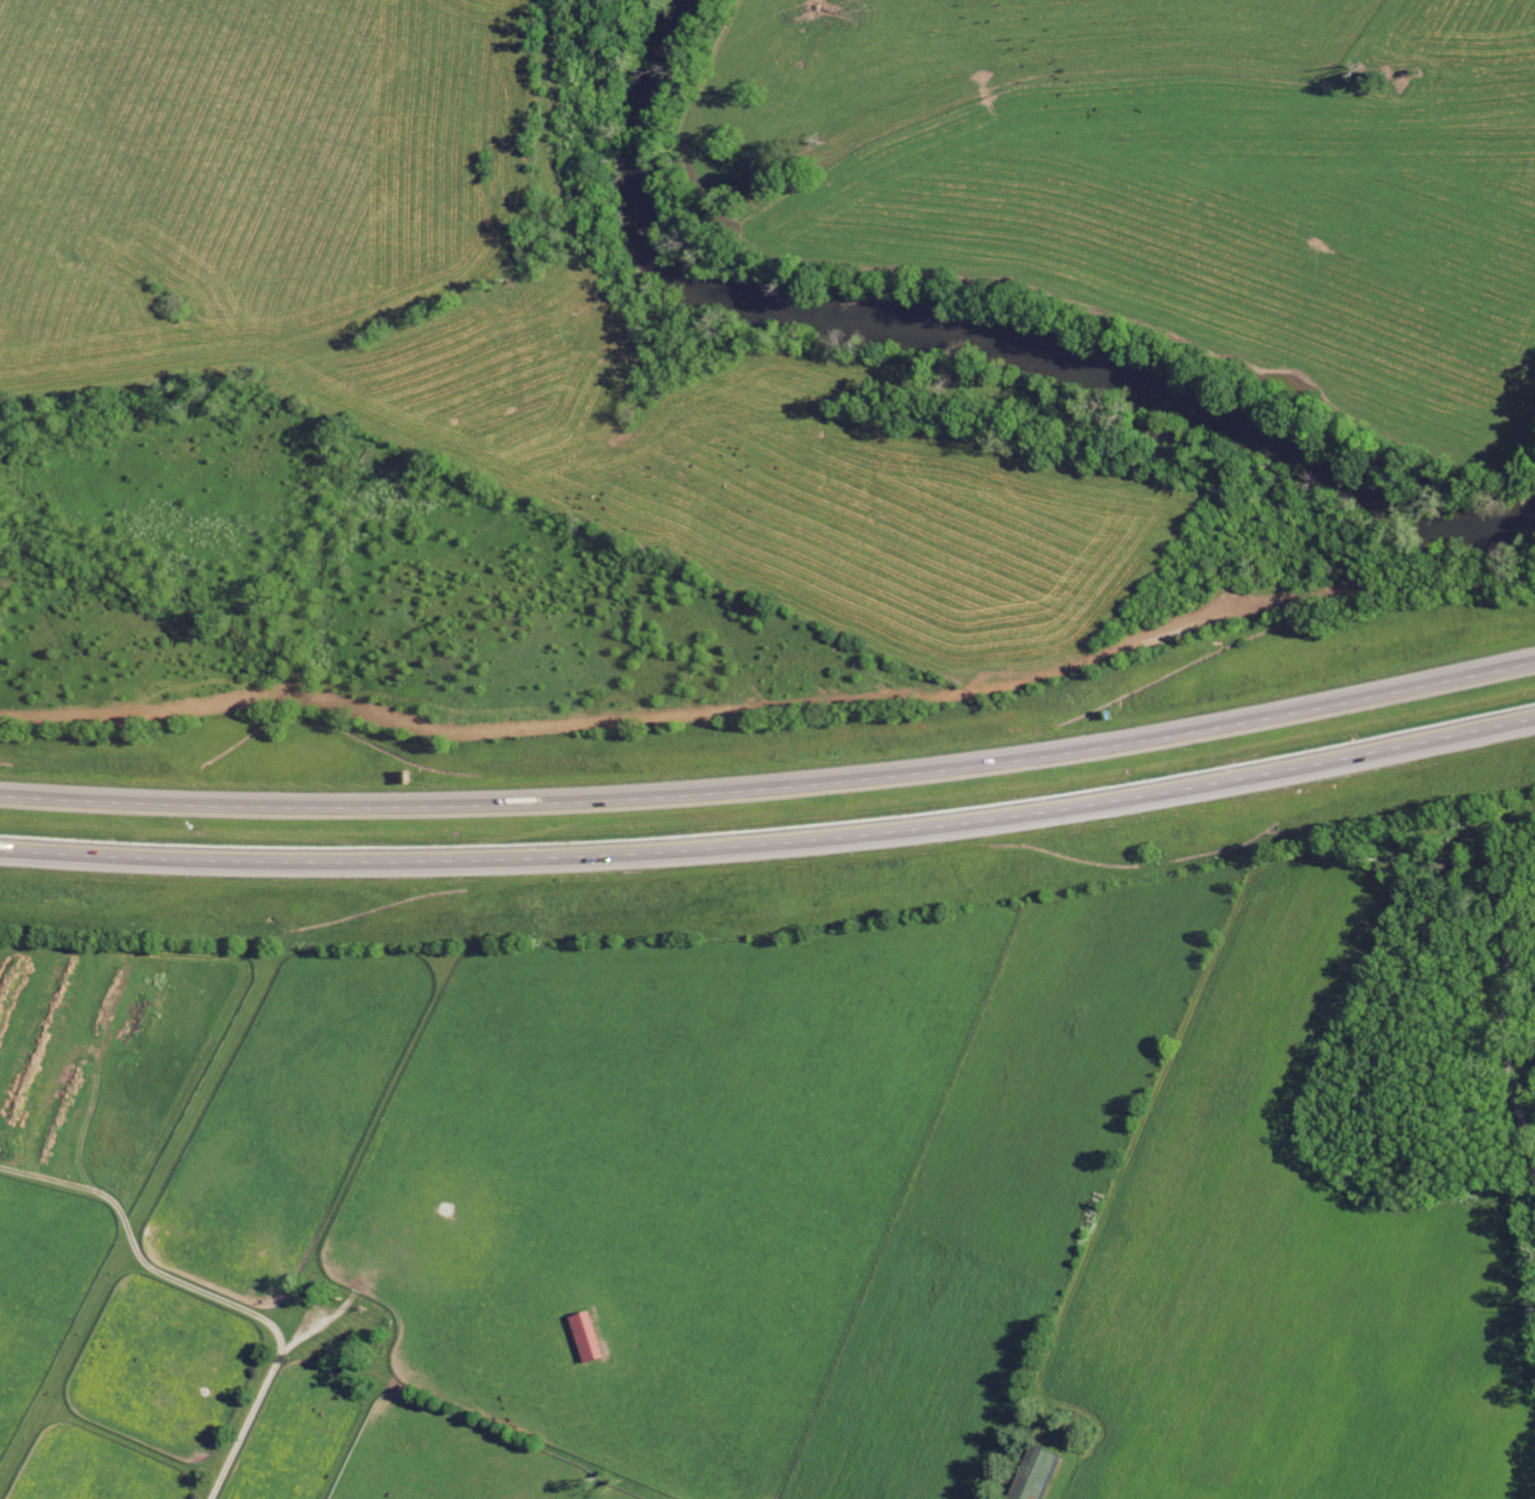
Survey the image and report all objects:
river: (990, 346)
road: (772, 784)
road: (772, 846)
road: (1508, 1033)
building: (584, 1336)
building: (1031, 1473)

